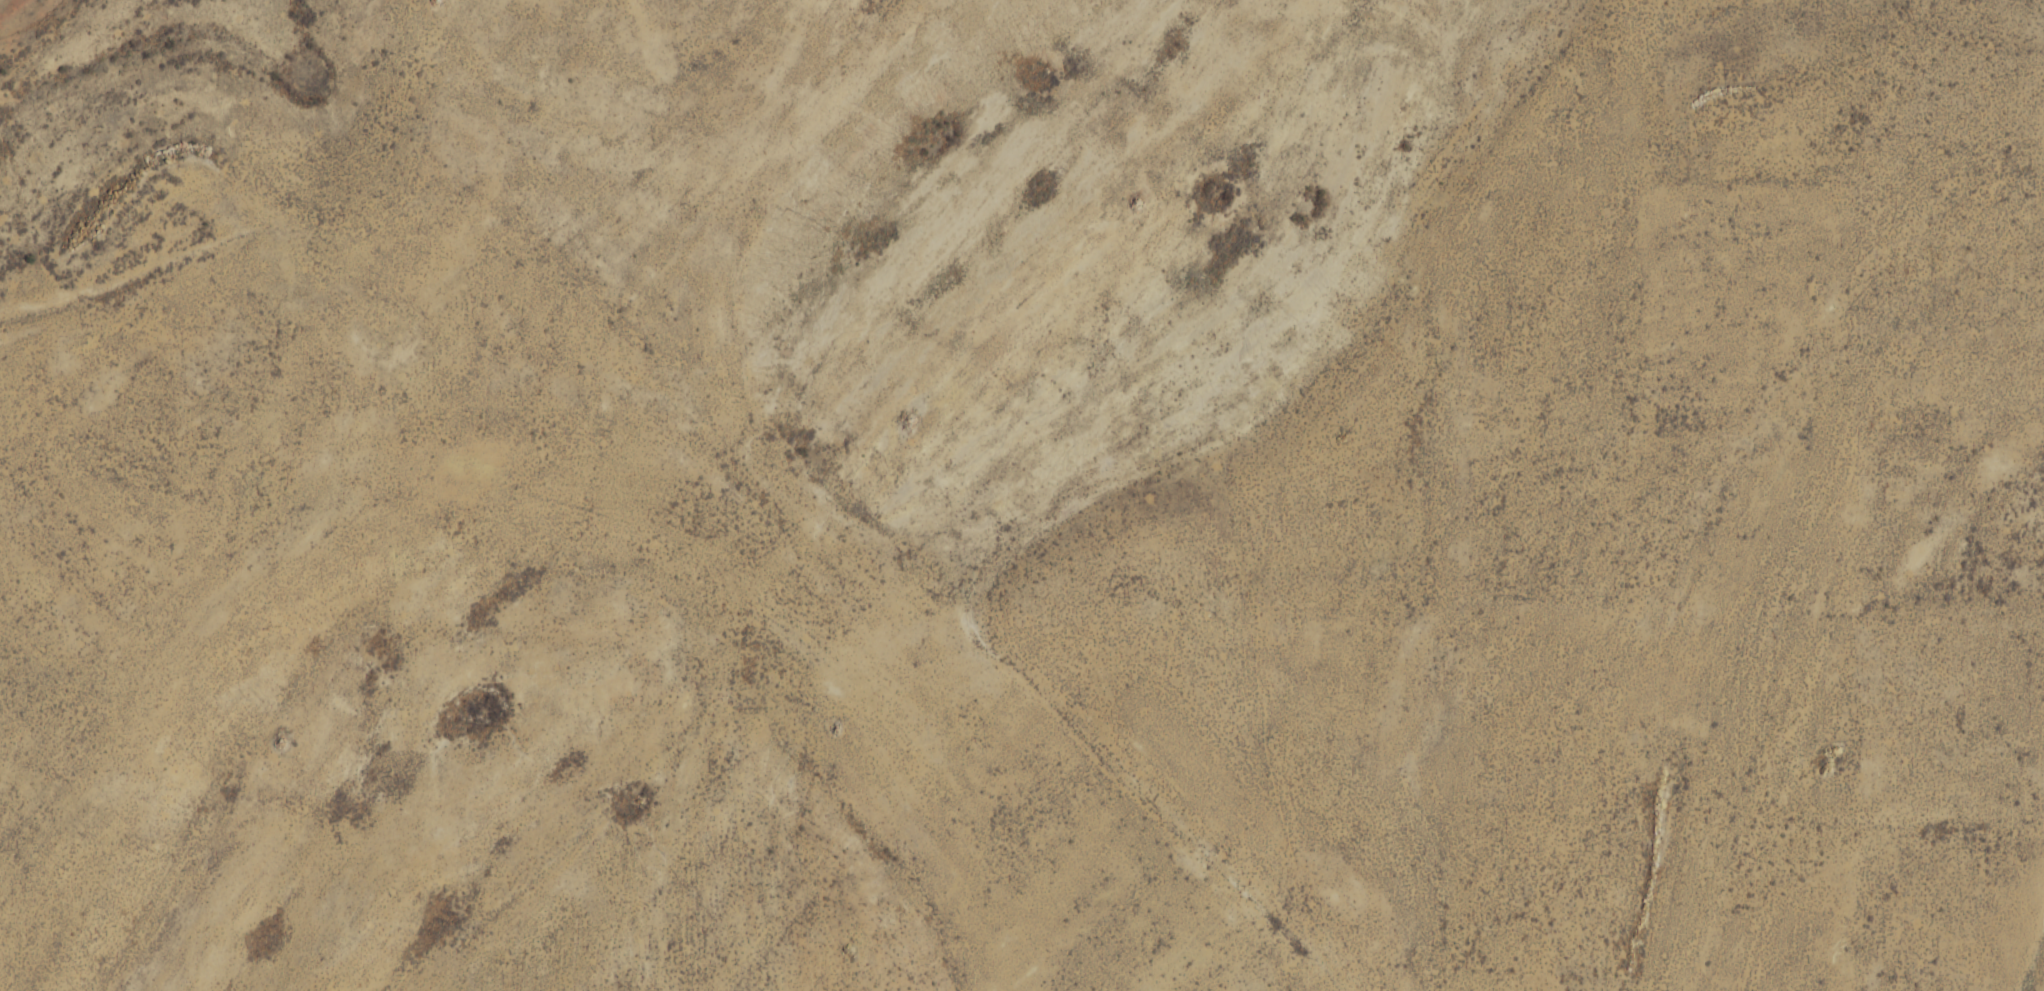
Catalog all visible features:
quarry: (1046, 505)

